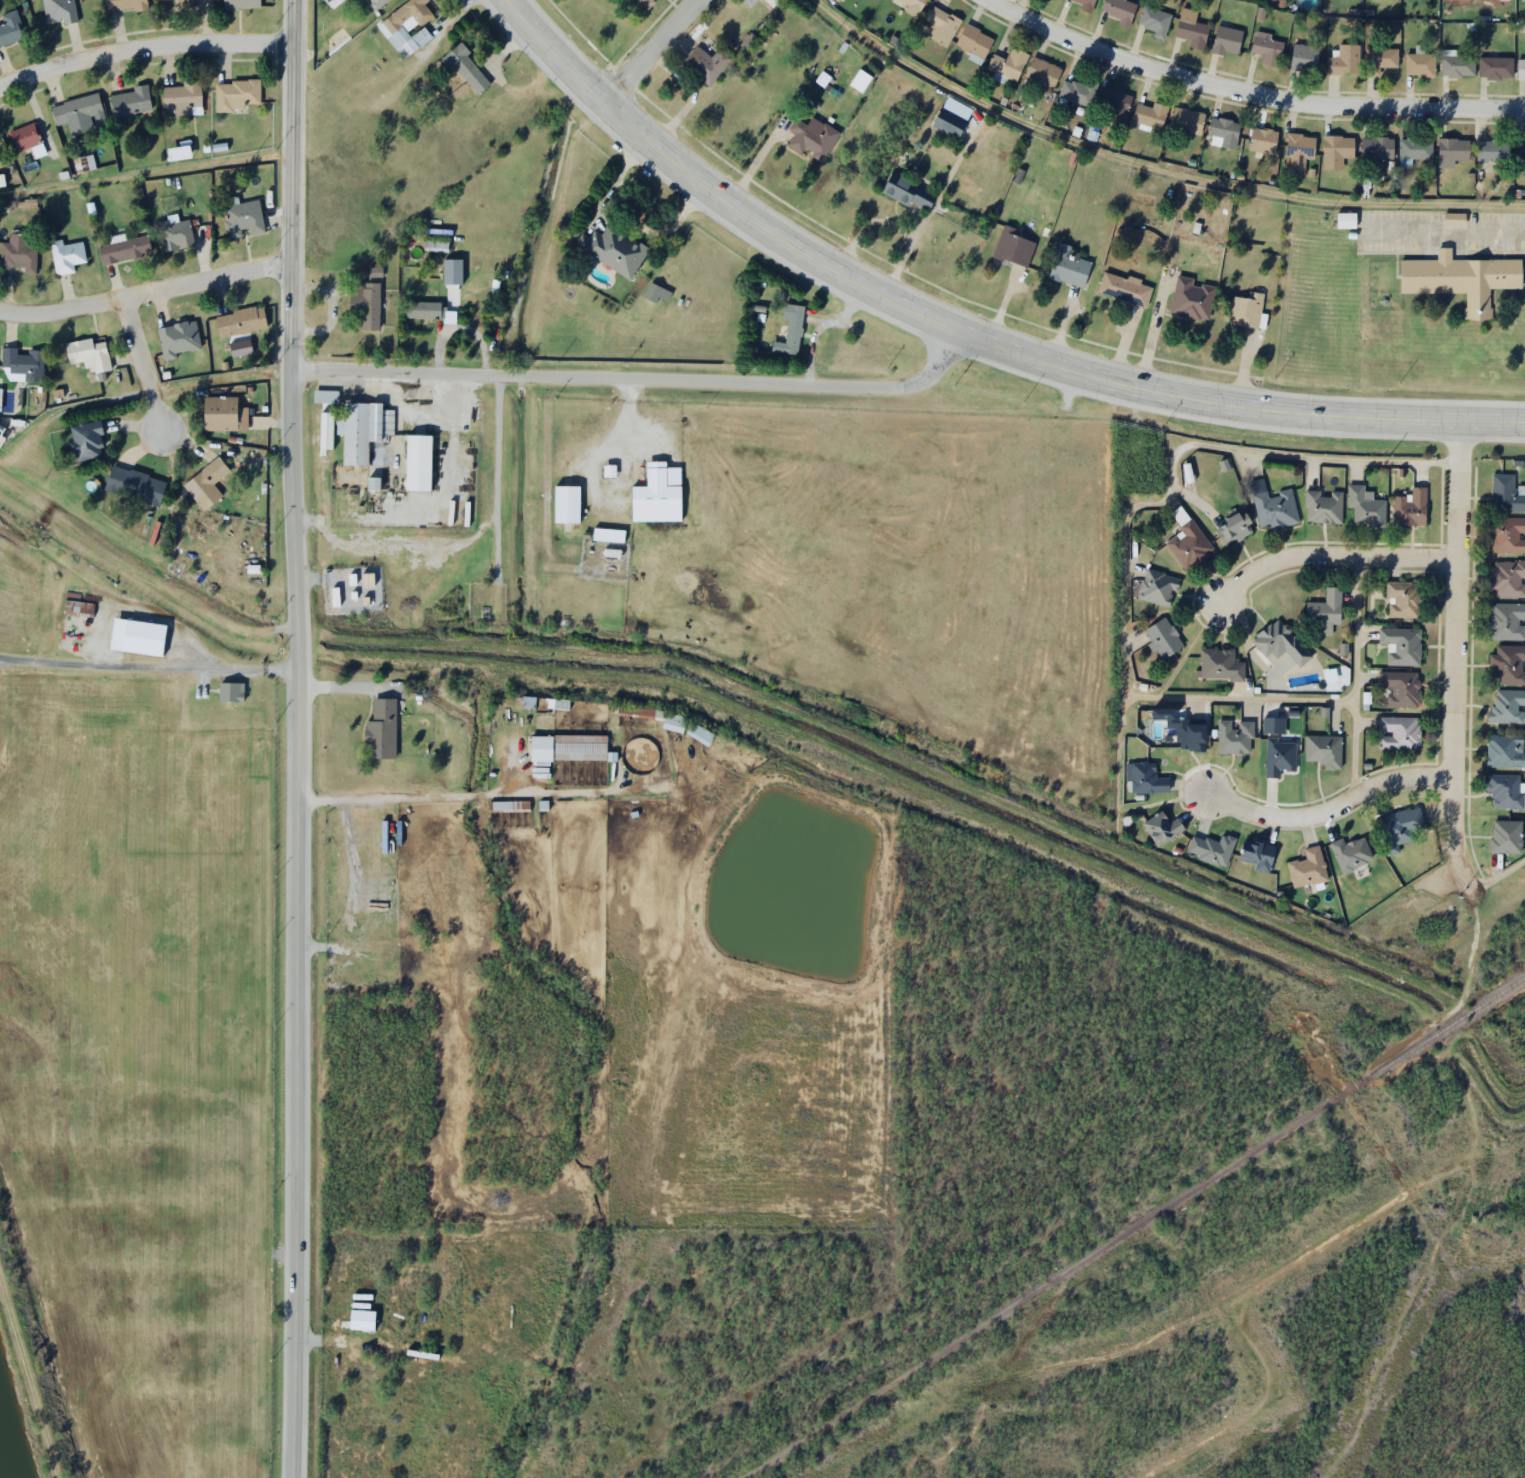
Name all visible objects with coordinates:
building: (749, 0)
building: (643, 1)
building: (380, 2)
building: (772, 2)
building: (174, 3)
building: (240, 4)
building: (1084, 4)
building: (124, 5)
building: (911, 5)
building: (1120, 10)
building: (59, 11)
building: (1154, 20)
building: (408, 22)
building: (10, 27)
building: (941, 27)
building: (1189, 28)
building: (1226, 40)
building: (973, 41)
building: (1267, 48)
road: (638, 49)
road: (145, 54)
building: (713, 56)
building: (1302, 57)
building: (467, 59)
building: (1379, 59)
building: (1344, 60)
building: (1007, 63)
building: (1419, 64)
building: (1456, 64)
building: (1494, 67)
building: (1520, 69)
building: (1042, 72)
building: (823, 73)
building: (861, 76)
road: (1248, 89)
building: (1078, 91)
building: (235, 94)
building: (182, 98)
building: (1115, 101)
building: (129, 103)
building: (76, 108)
building: (953, 111)
building: (1150, 114)
building: (1186, 120)
building: (1223, 130)
building: (811, 132)
building: (26, 139)
building: (1261, 140)
building: (1376, 147)
building: (1414, 147)
building: (1335, 150)
building: (1451, 150)
building: (1492, 150)
building: (1297, 151)
building: (1520, 155)
road: (1153, 160)
road: (146, 166)
building: (911, 185)
building: (1349, 214)
building: (242, 219)
building: (1453, 219)
building: (175, 233)
building: (615, 241)
building: (1014, 241)
building: (435, 246)
building: (124, 249)
building: (18, 253)
building: (66, 256)
building: (1071, 260)
building: (1465, 272)
building: (1126, 282)
building: (657, 286)
road: (146, 292)
building: (1192, 293)
building: (367, 297)
building: (425, 303)
building: (1247, 303)
building: (243, 313)
building: (791, 326)
building: (179, 333)
road: (961, 335)
building: (90, 347)
building: (21, 364)
road: (142, 365)
road: (221, 374)
road: (639, 379)
building: (328, 389)
building: (223, 407)
building: (364, 423)
building: (88, 433)
building: (3, 435)
building: (422, 455)
building: (610, 464)
building: (378, 476)
building: (209, 477)
building: (138, 479)
building: (659, 487)
building: (1505, 487)
building: (569, 496)
building: (1275, 500)
building: (1324, 500)
building: (1367, 500)
building: (1410, 503)
building: (1237, 520)
road: (1123, 523)
building: (609, 528)
building: (1507, 529)
building: (1190, 539)
building: (614, 547)
road: (1335, 555)
building: (1506, 572)
building: (1159, 582)
building: (1404, 593)
building: (1326, 606)
building: (78, 607)
building: (1506, 615)
building: (1162, 635)
building: (1280, 635)
building: (1402, 639)
road: (1453, 655)
building: (1222, 658)
building: (1508, 658)
road: (147, 660)
road: (1354, 679)
building: (1403, 682)
building: (232, 683)
building: (1507, 701)
building: (560, 703)
building: (651, 719)
building: (384, 722)
building: (1401, 726)
building: (1192, 728)
building: (1236, 732)
building: (700, 734)
road: (296, 738)
building: (1324, 744)
building: (1505, 744)
building: (571, 748)
building: (1278, 751)
building: (1147, 771)
building: (1504, 786)
road: (1331, 812)
building: (1164, 820)
building: (1399, 822)
building: (1504, 830)
building: (1213, 842)
building: (1351, 847)
building: (1259, 848)
building: (1309, 861)
road: (1497, 876)
railway: (1449, 1027)
building: (361, 1320)

